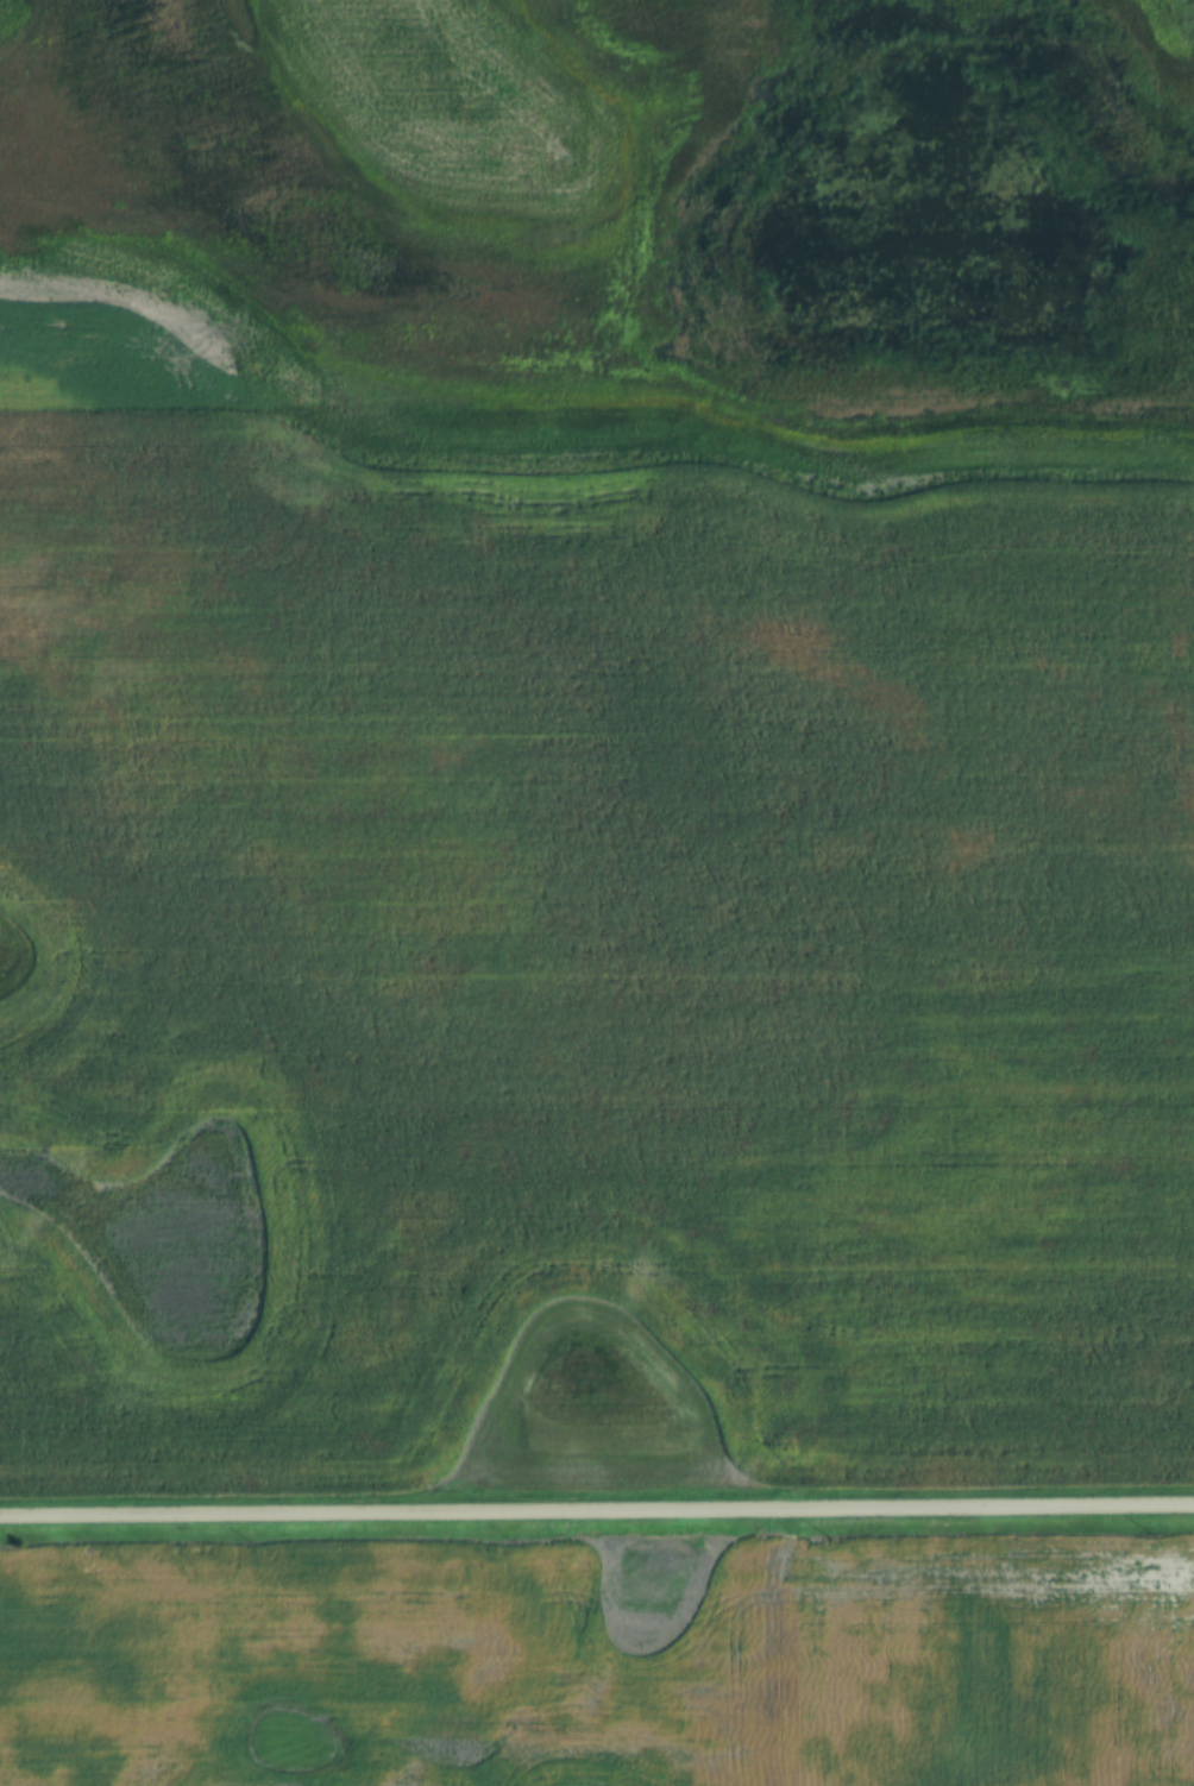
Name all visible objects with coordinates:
road: (597, 1514)

